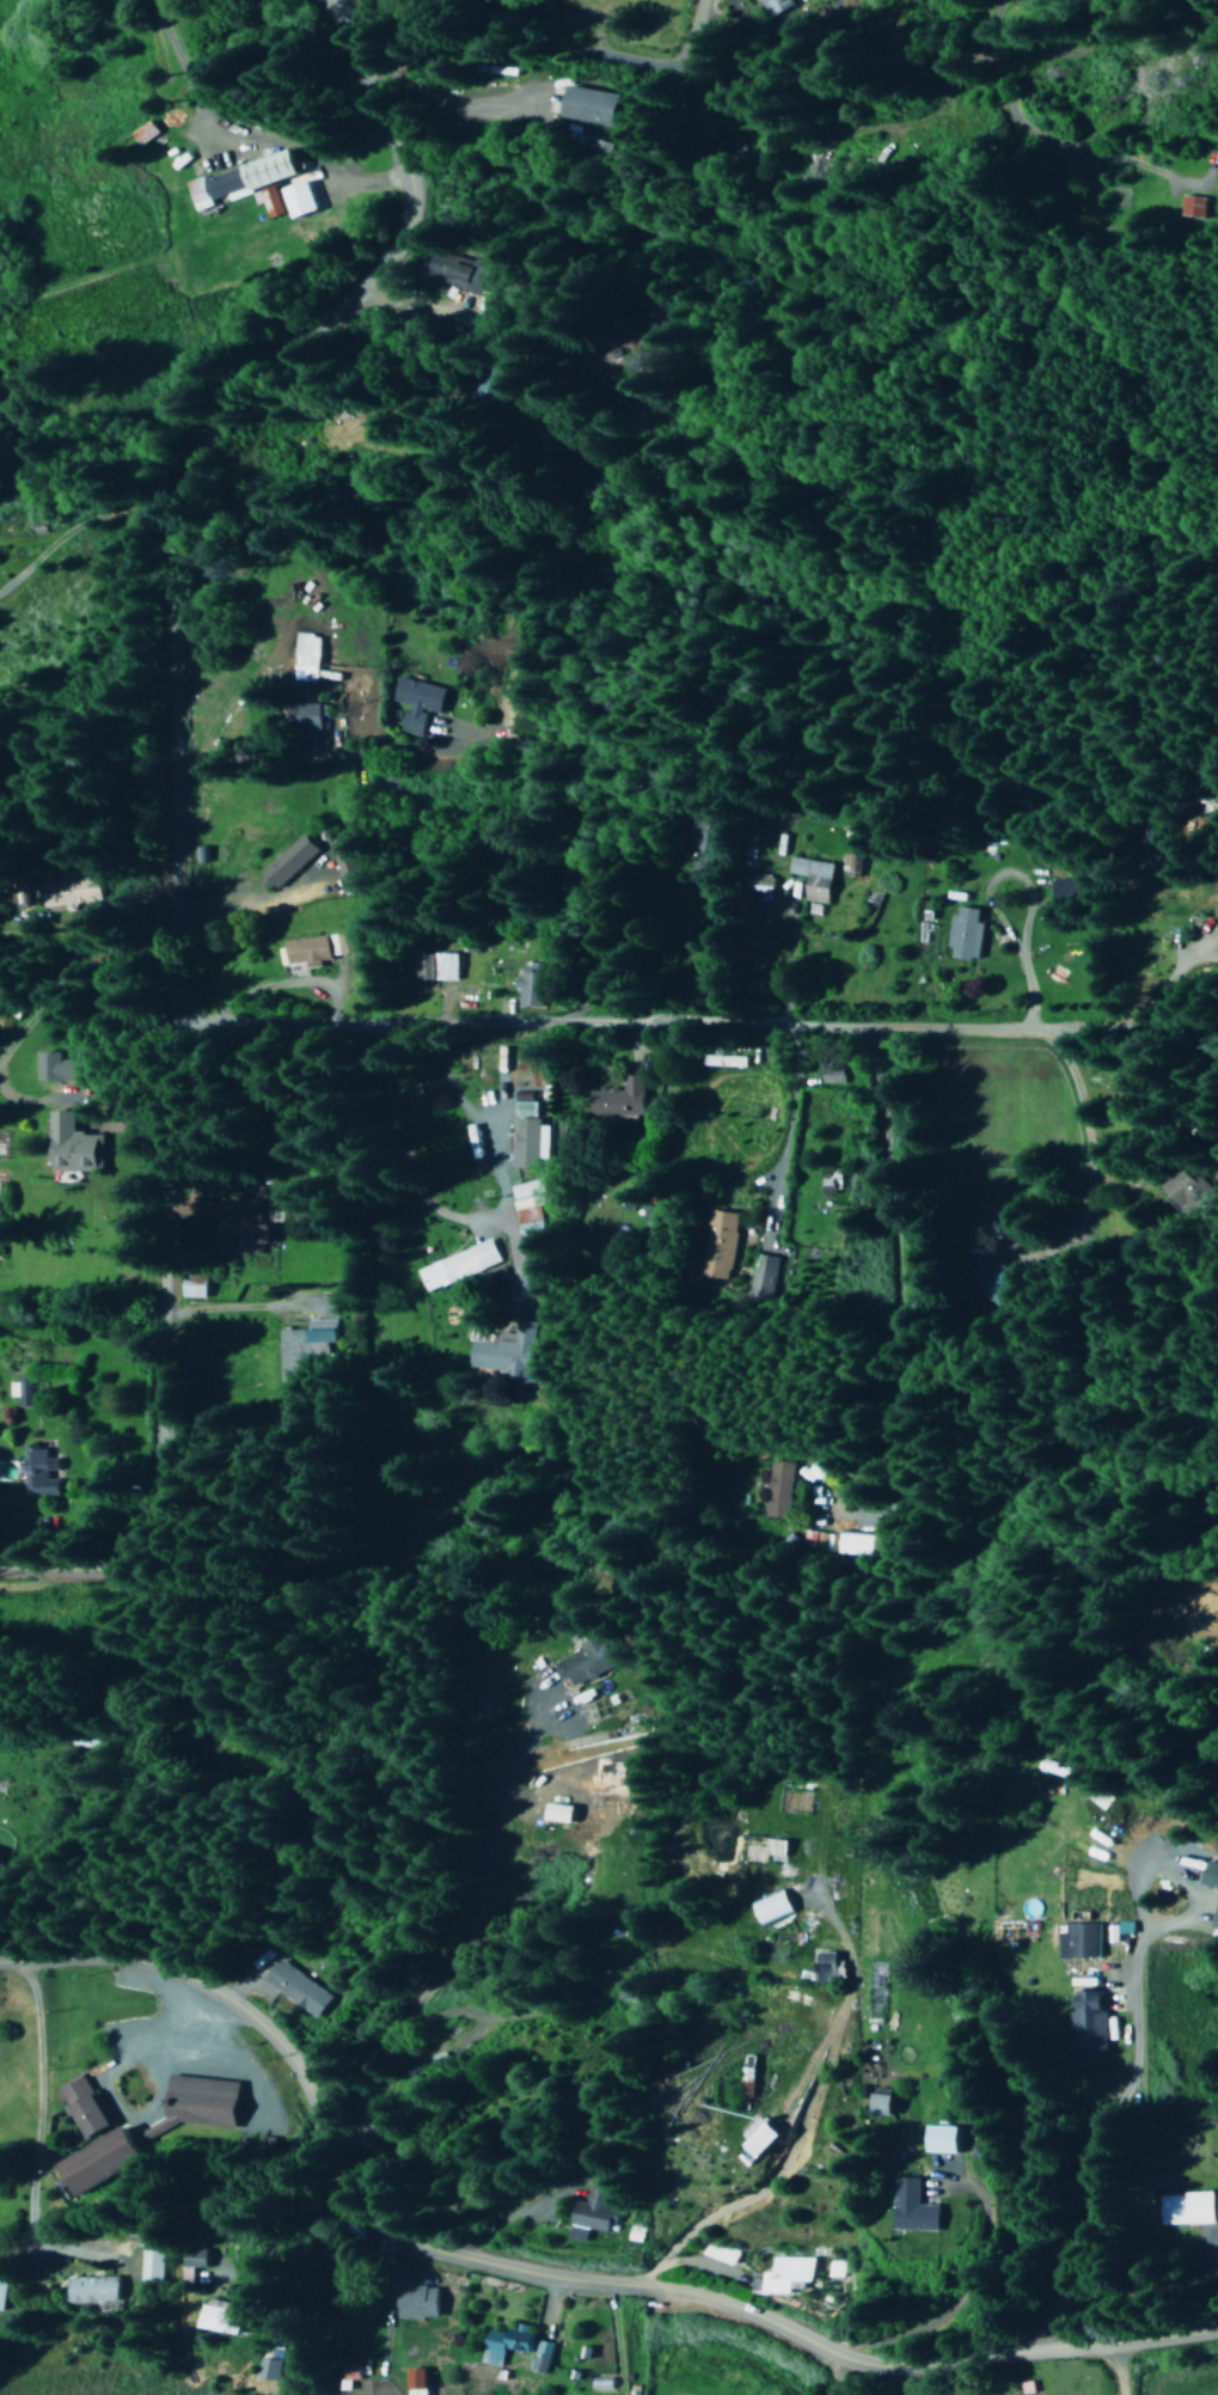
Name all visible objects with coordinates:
building: (776, 6)
road: (343, 23)
road: (779, 78)
building: (587, 105)
building: (143, 133)
road: (238, 139)
building: (1217, 163)
building: (246, 184)
building: (299, 201)
building: (1189, 207)
building: (453, 273)
road: (71, 525)
building: (306, 658)
building: (416, 703)
building: (305, 716)
road: (316, 760)
road: (175, 829)
building: (705, 838)
building: (347, 860)
building: (287, 862)
building: (850, 866)
building: (812, 878)
building: (755, 884)
building: (1064, 888)
building: (72, 892)
building: (963, 934)
building: (319, 948)
building: (445, 966)
building: (530, 985)
road: (710, 1028)
building: (726, 1061)
building: (60, 1068)
building: (833, 1073)
building: (614, 1101)
building: (524, 1136)
building: (74, 1145)
road: (426, 1175)
building: (831, 1184)
building: (629, 1198)
building: (528, 1215)
building: (246, 1228)
building: (717, 1245)
building: (458, 1265)
building: (761, 1278)
building: (991, 1283)
building: (195, 1288)
building: (320, 1331)
building: (507, 1352)
building: (289, 1357)
building: (18, 1389)
building: (38, 1472)
building: (777, 1489)
building: (815, 1510)
building: (849, 1544)
building: (584, 1661)
building: (559, 1814)
building: (1210, 1875)
building: (772, 1907)
building: (1217, 1926)
building: (1077, 1941)
building: (826, 1968)
building: (299, 1982)
road: (568, 1982)
building: (1087, 2026)
building: (203, 2102)
building: (885, 2103)
building: (84, 2108)
road: (30, 2128)
building: (766, 2134)
building: (948, 2138)
building: (102, 2161)
building: (1189, 2207)
building: (590, 2212)
building: (919, 2213)
building: (634, 2234)
building: (157, 2259)
building: (198, 2261)
building: (830, 2269)
building: (779, 2275)
road: (544, 2277)
building: (100, 2287)
building: (6, 2290)
road: (969, 2295)
building: (416, 2302)
building: (232, 2316)
building: (518, 2347)
building: (268, 2369)
road: (1110, 2371)
building: (344, 2375)
road: (837, 2375)
building: (416, 2381)

